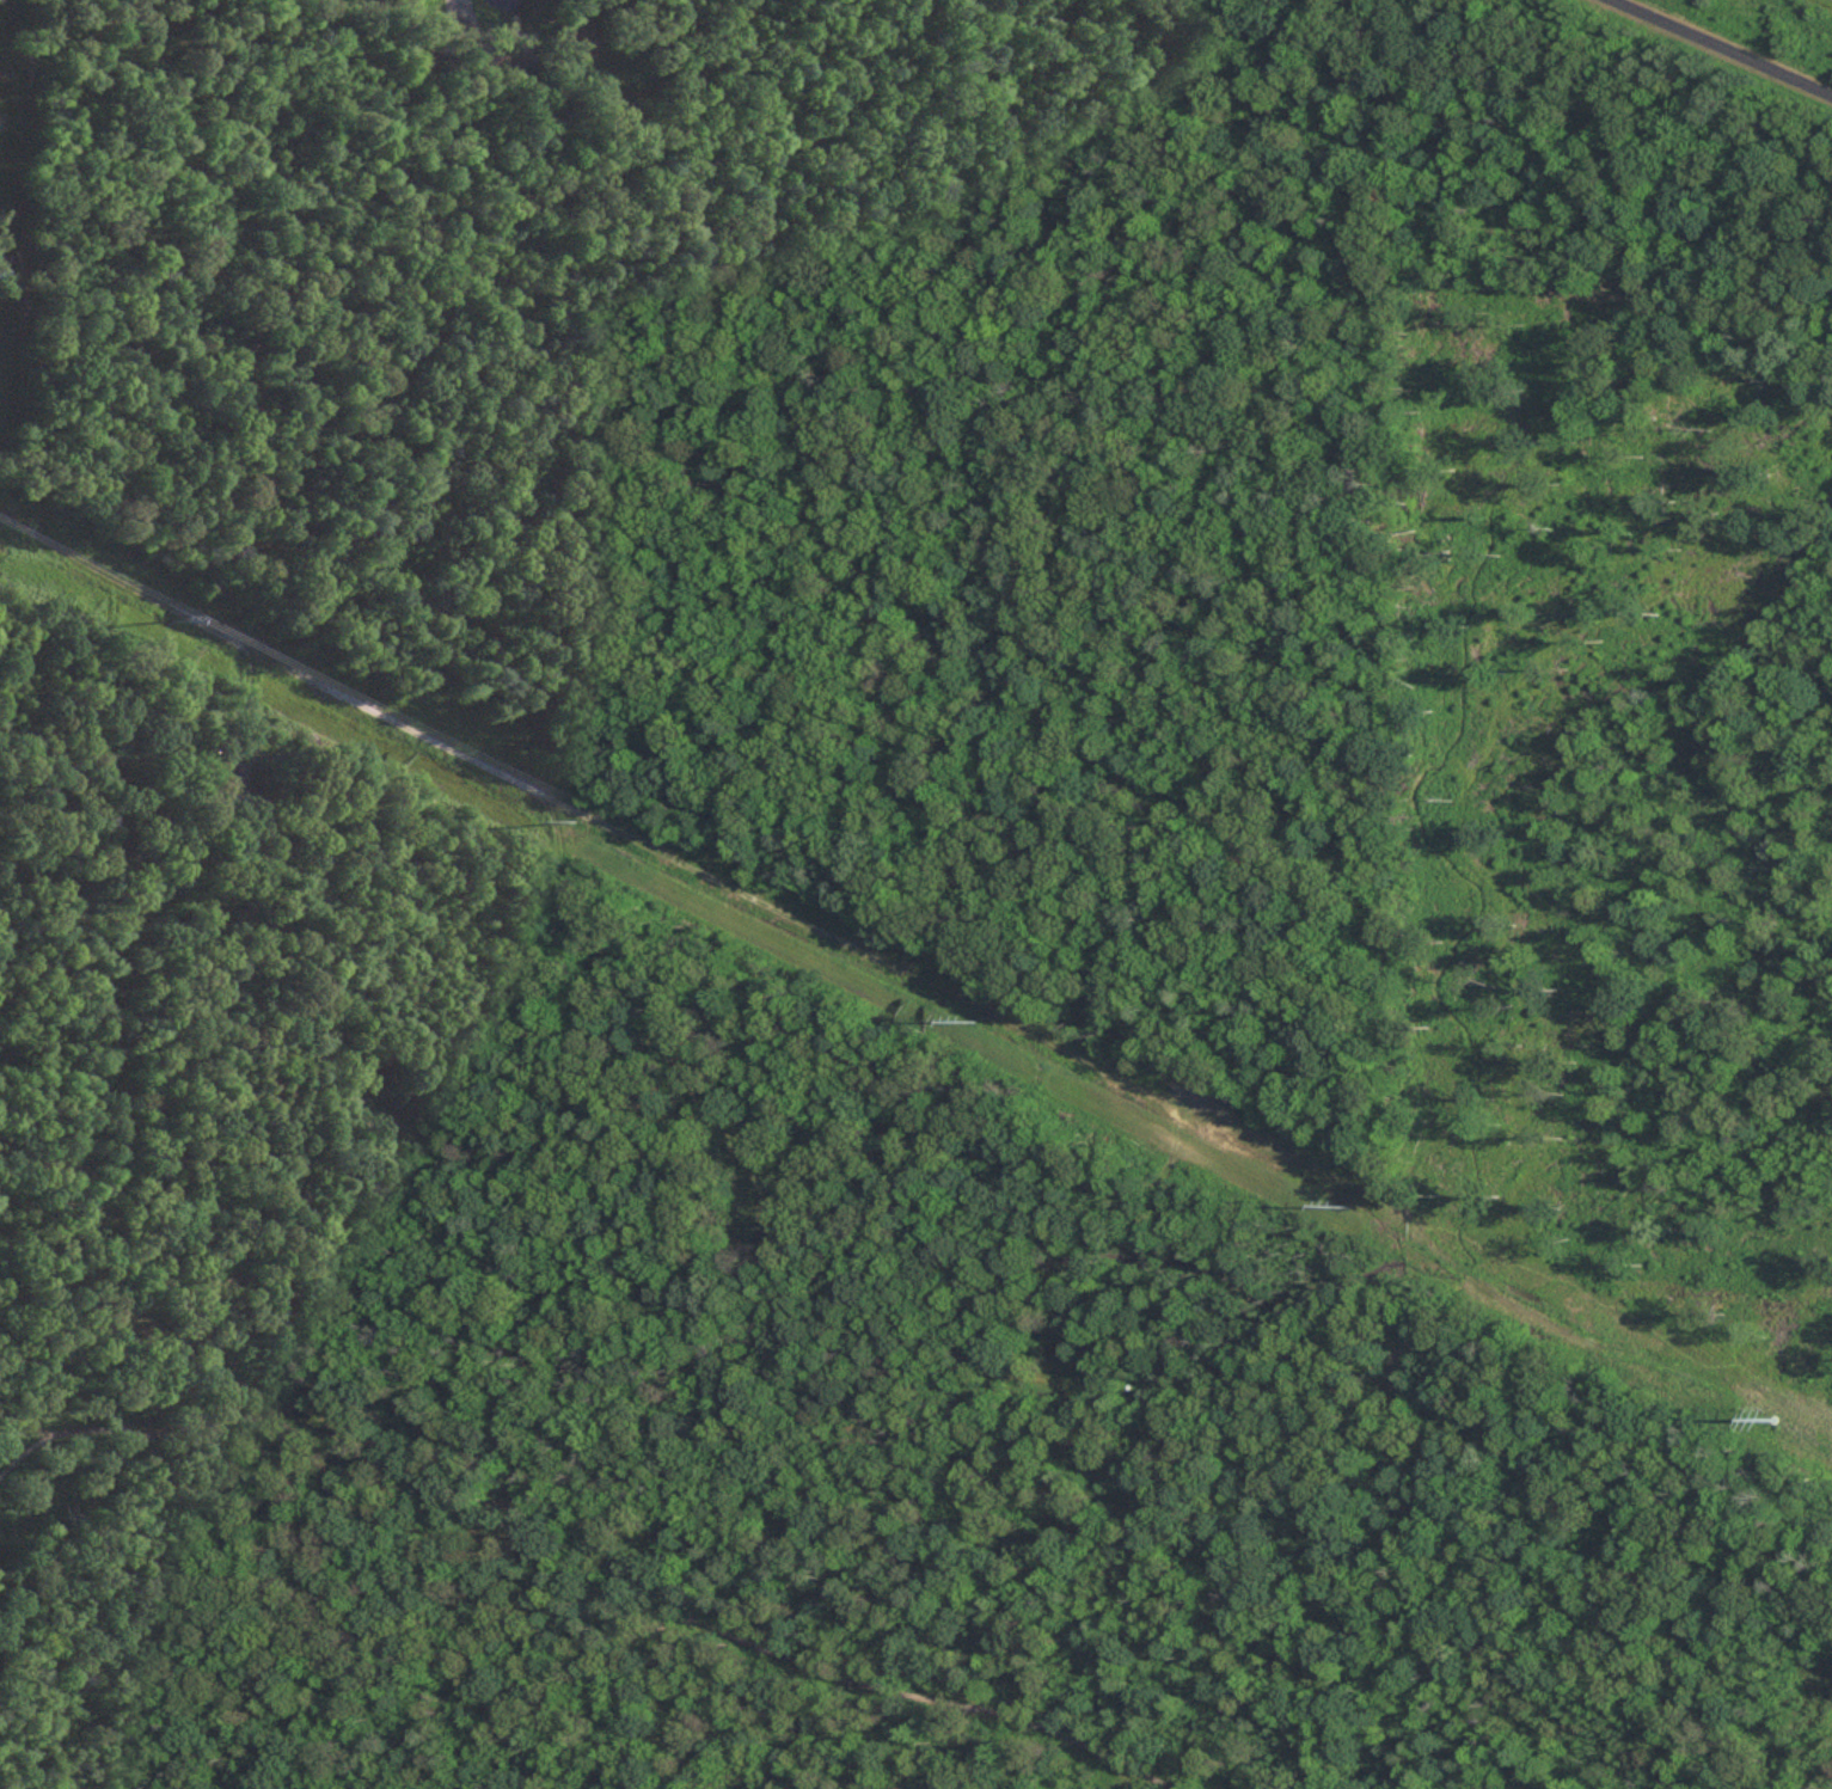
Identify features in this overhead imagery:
road: (1723, 48)
power tower: (160, 608)
building: (231, 778)
power tower: (563, 807)
power tower: (966, 1009)
power tower: (1336, 1191)
power tower: (1764, 1410)

